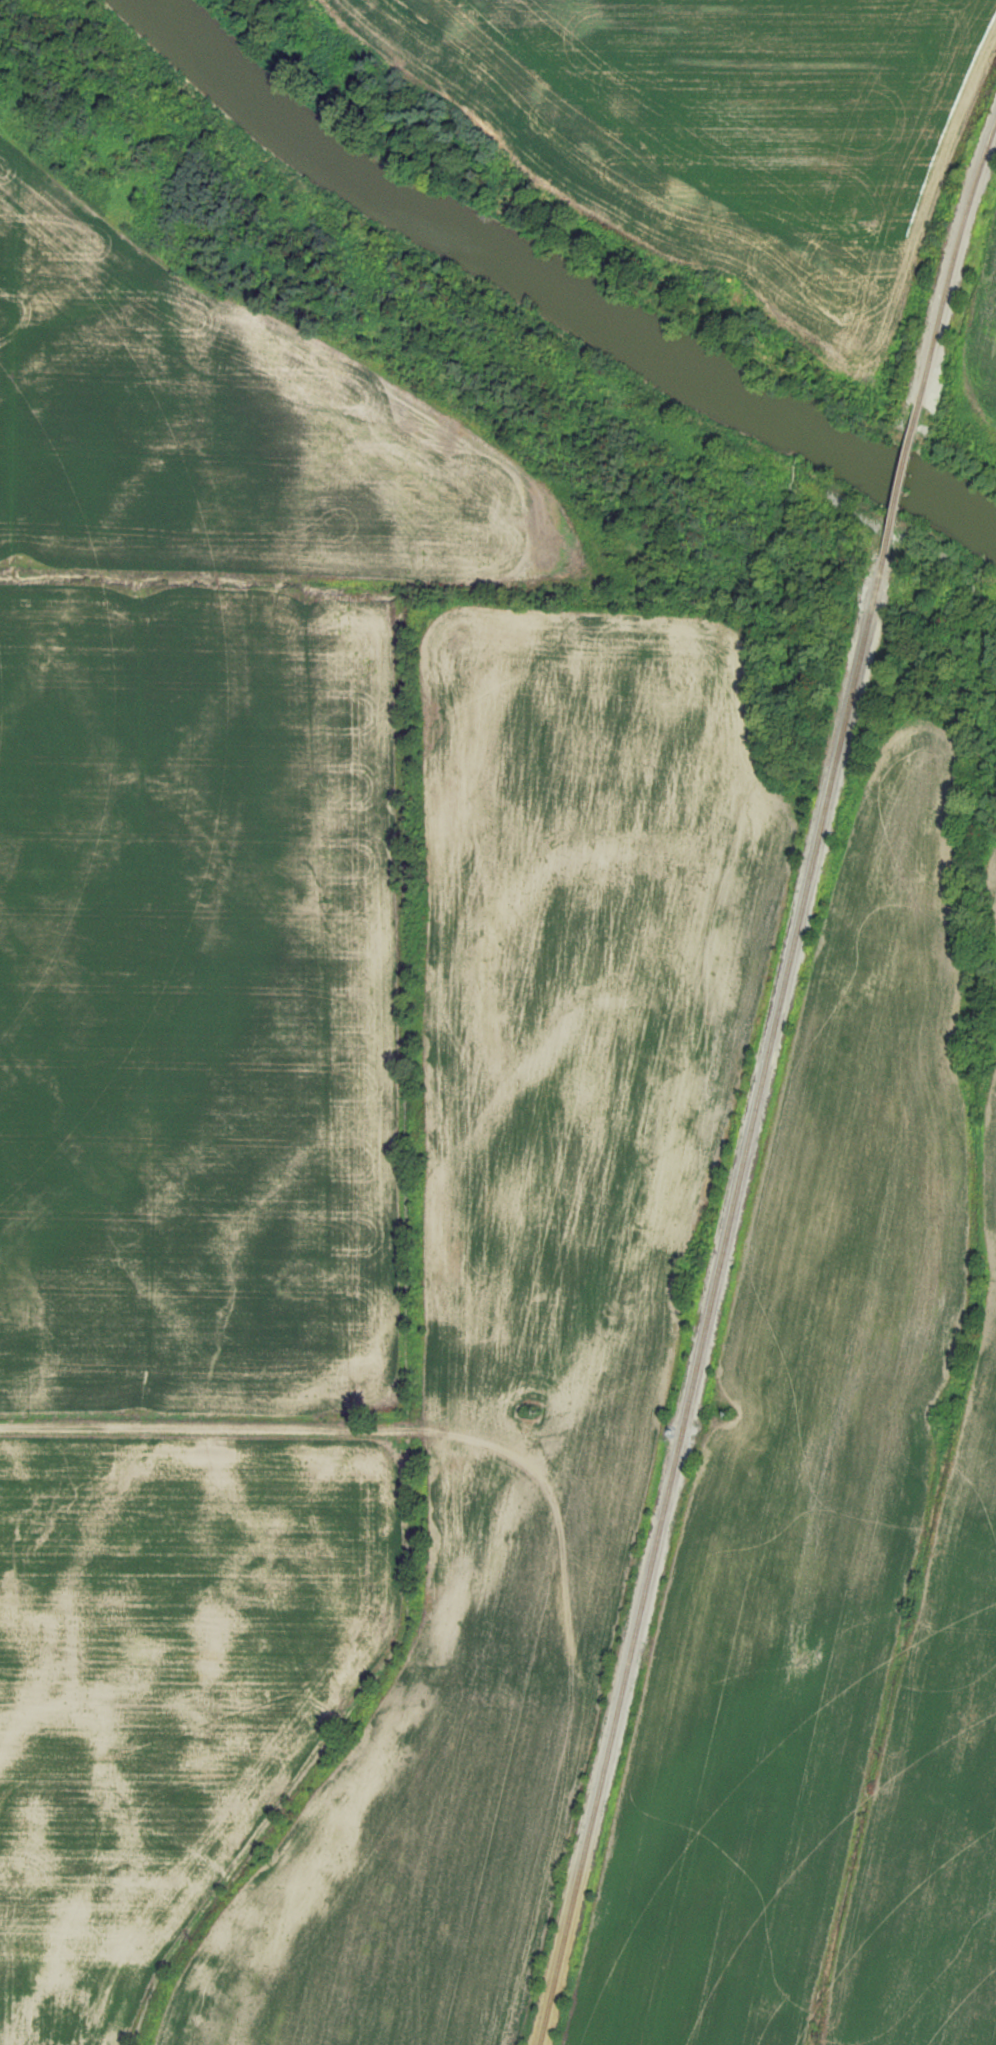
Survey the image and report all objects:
railway: (954, 262)
railway: (901, 479)
railway: (710, 1301)
road: (169, 1426)
road: (554, 1506)
road: (534, 1898)

